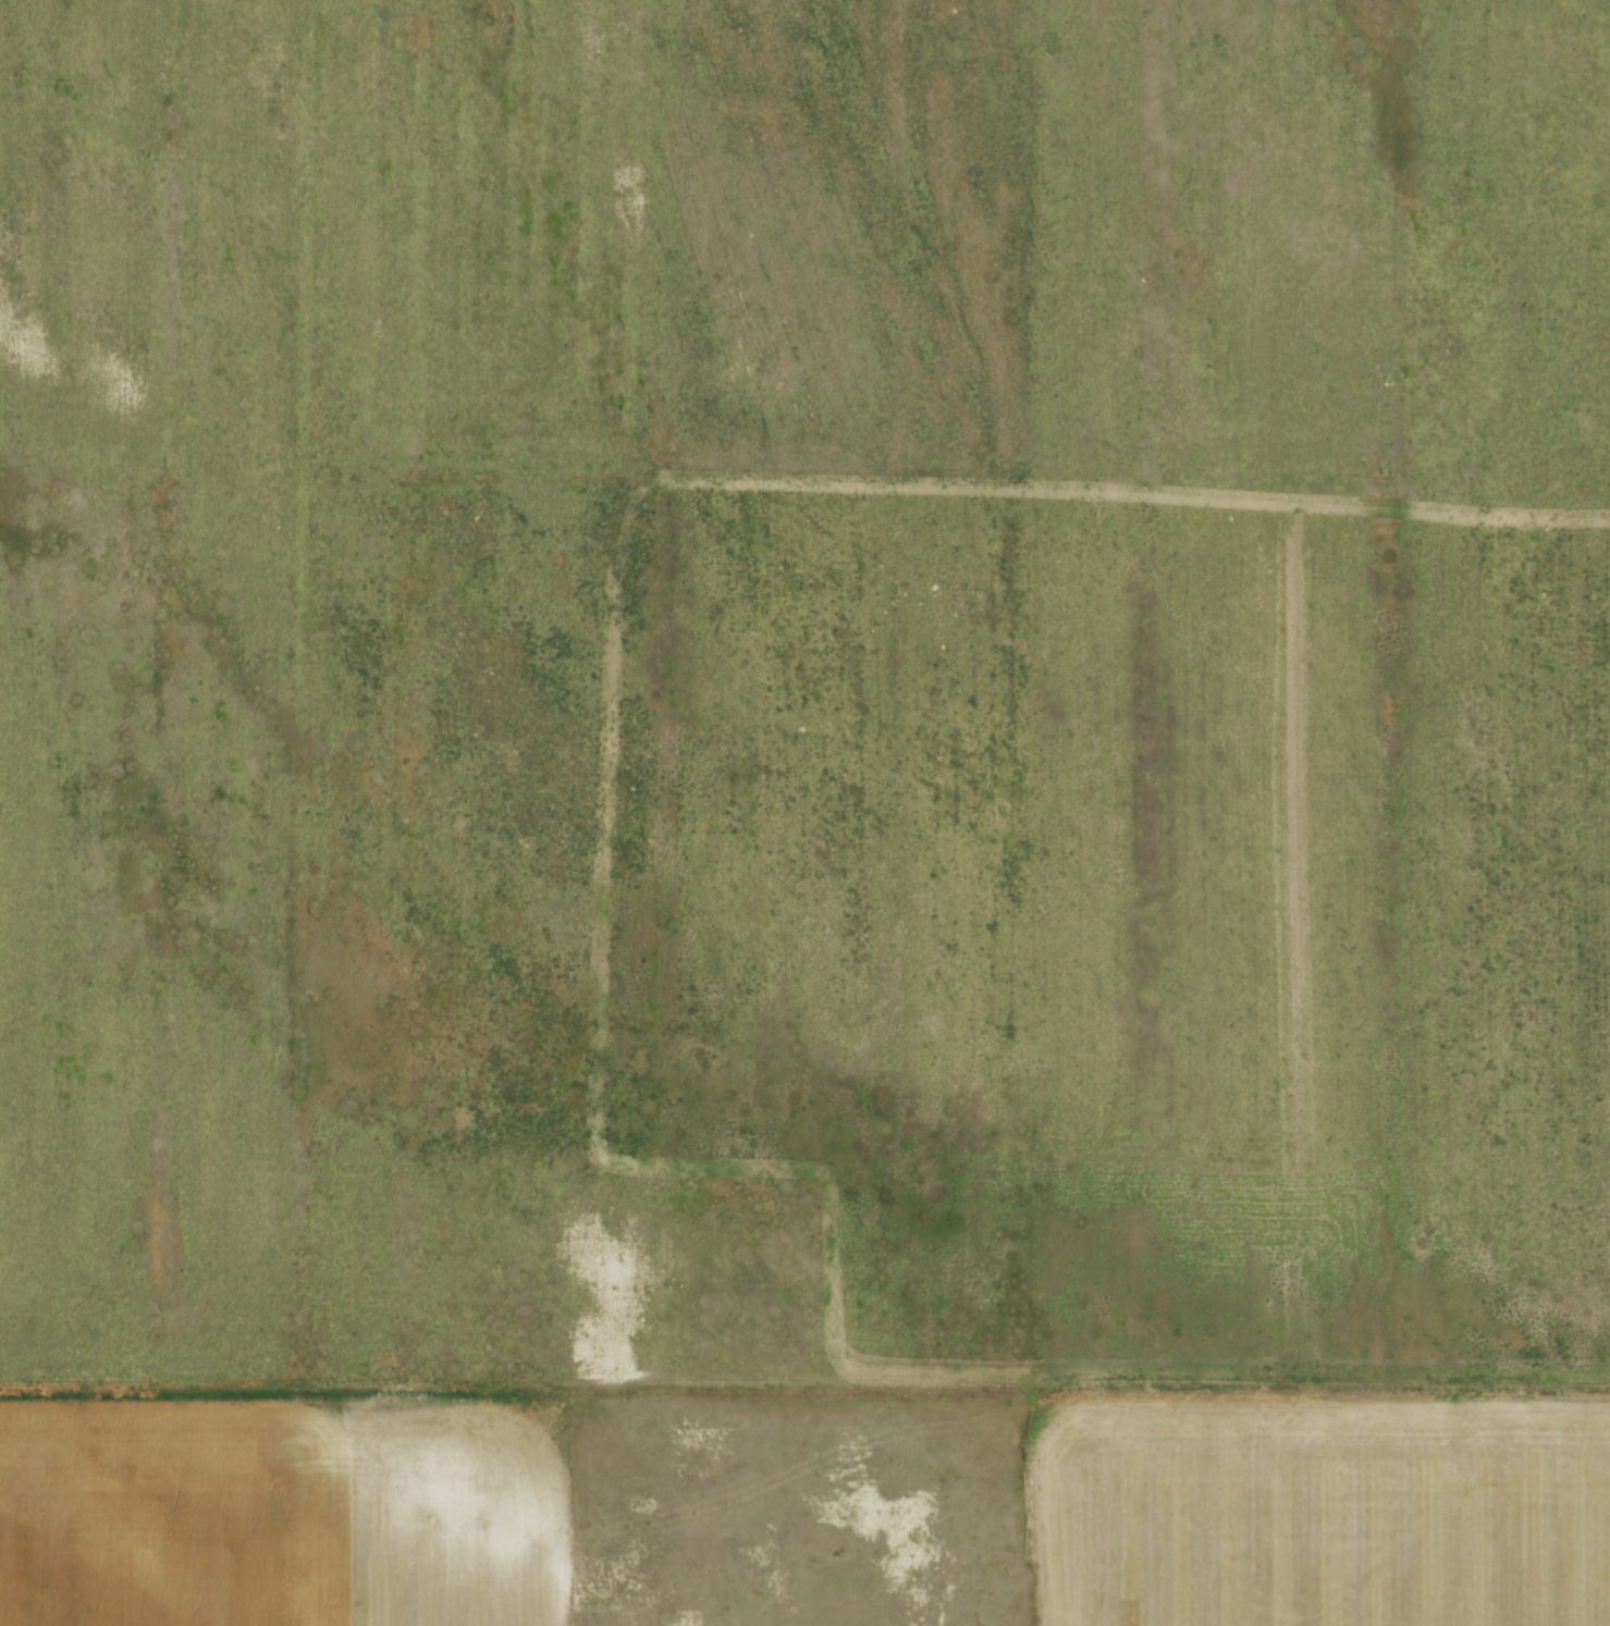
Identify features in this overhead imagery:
crop: (804, 813)

